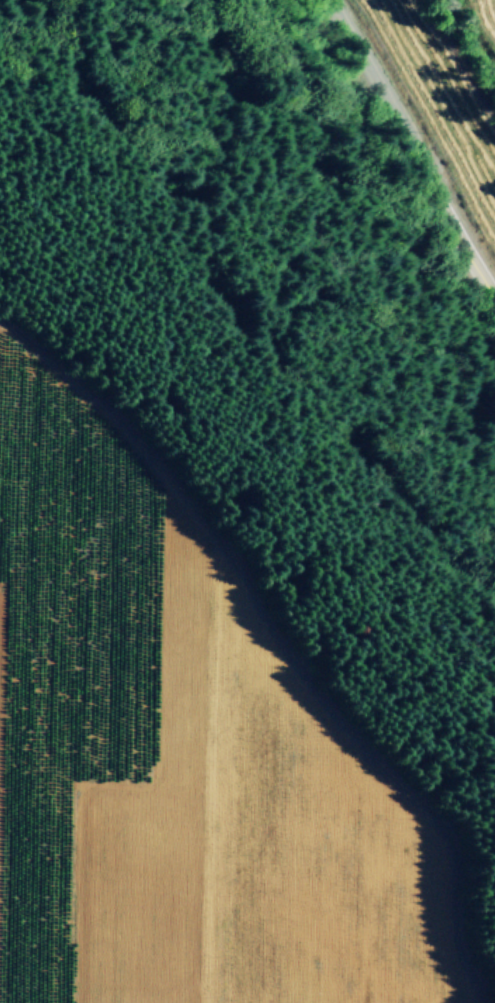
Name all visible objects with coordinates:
crop: (427, 63)
road: (413, 146)
road: (279, 643)
crop: (181, 811)

